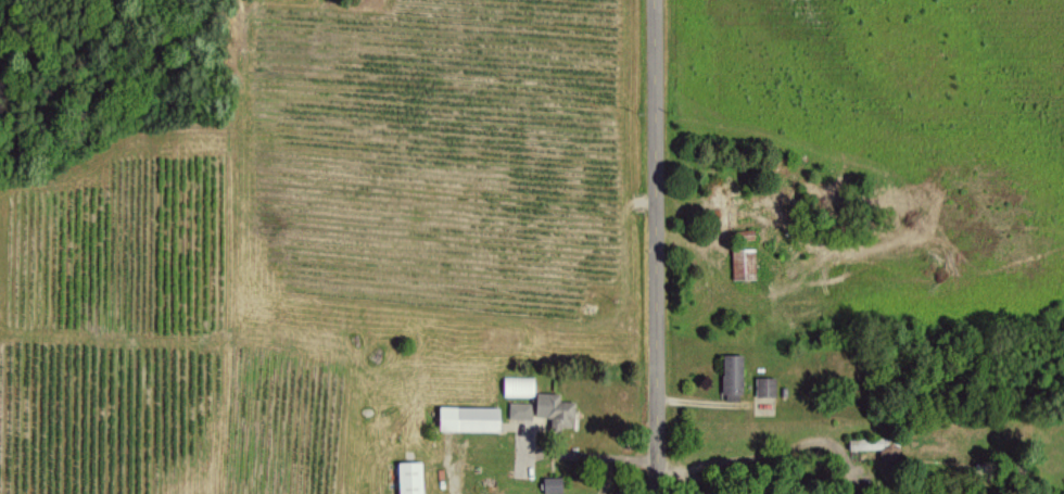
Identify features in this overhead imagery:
road: (646, 246)
building: (743, 263)
building: (730, 377)
building: (517, 385)
building: (763, 387)
building: (519, 409)
building: (553, 409)
building: (466, 418)
building: (876, 446)
road: (445, 476)
building: (407, 478)
building: (550, 484)

